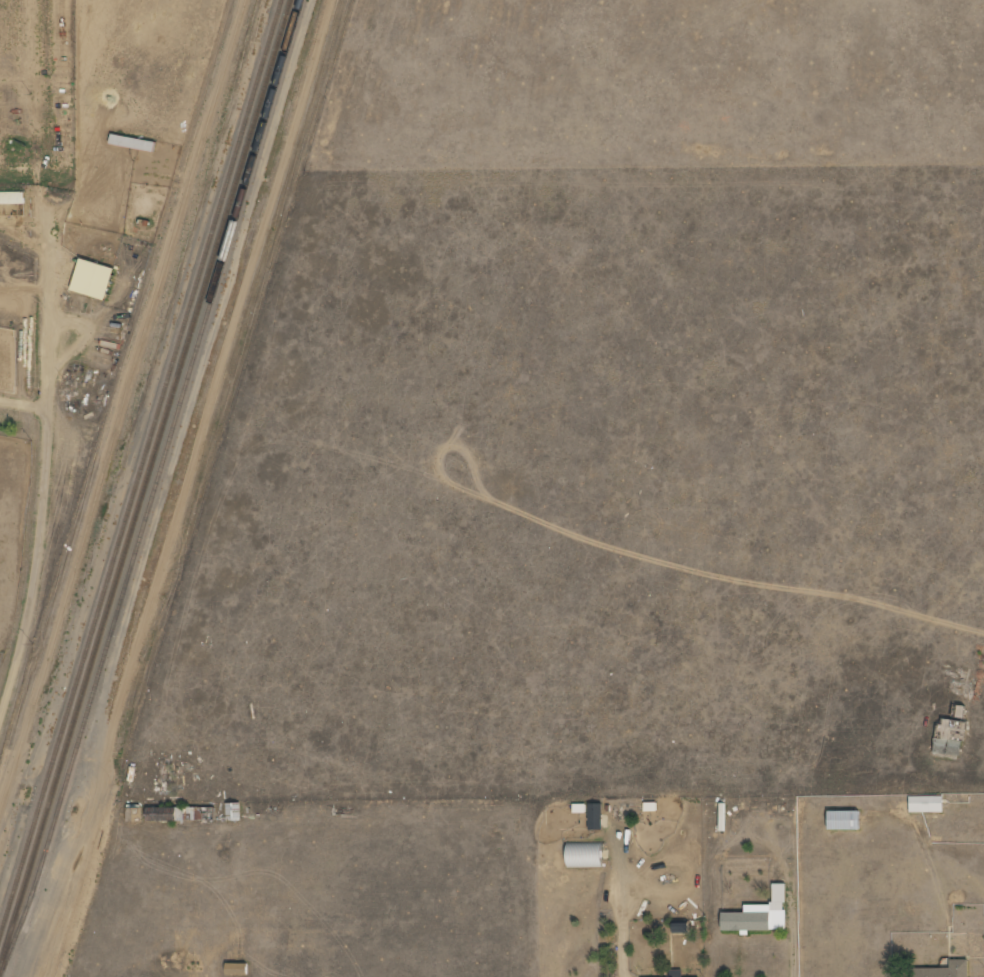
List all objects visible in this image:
building: (12, 197)
building: (94, 279)
railway: (142, 473)
railway: (147, 488)
railway: (157, 489)
building: (950, 737)
building: (926, 804)
building: (166, 814)
building: (596, 816)
building: (845, 820)
building: (586, 856)
building: (760, 914)
building: (682, 928)
building: (238, 969)
building: (944, 970)
building: (677, 973)

